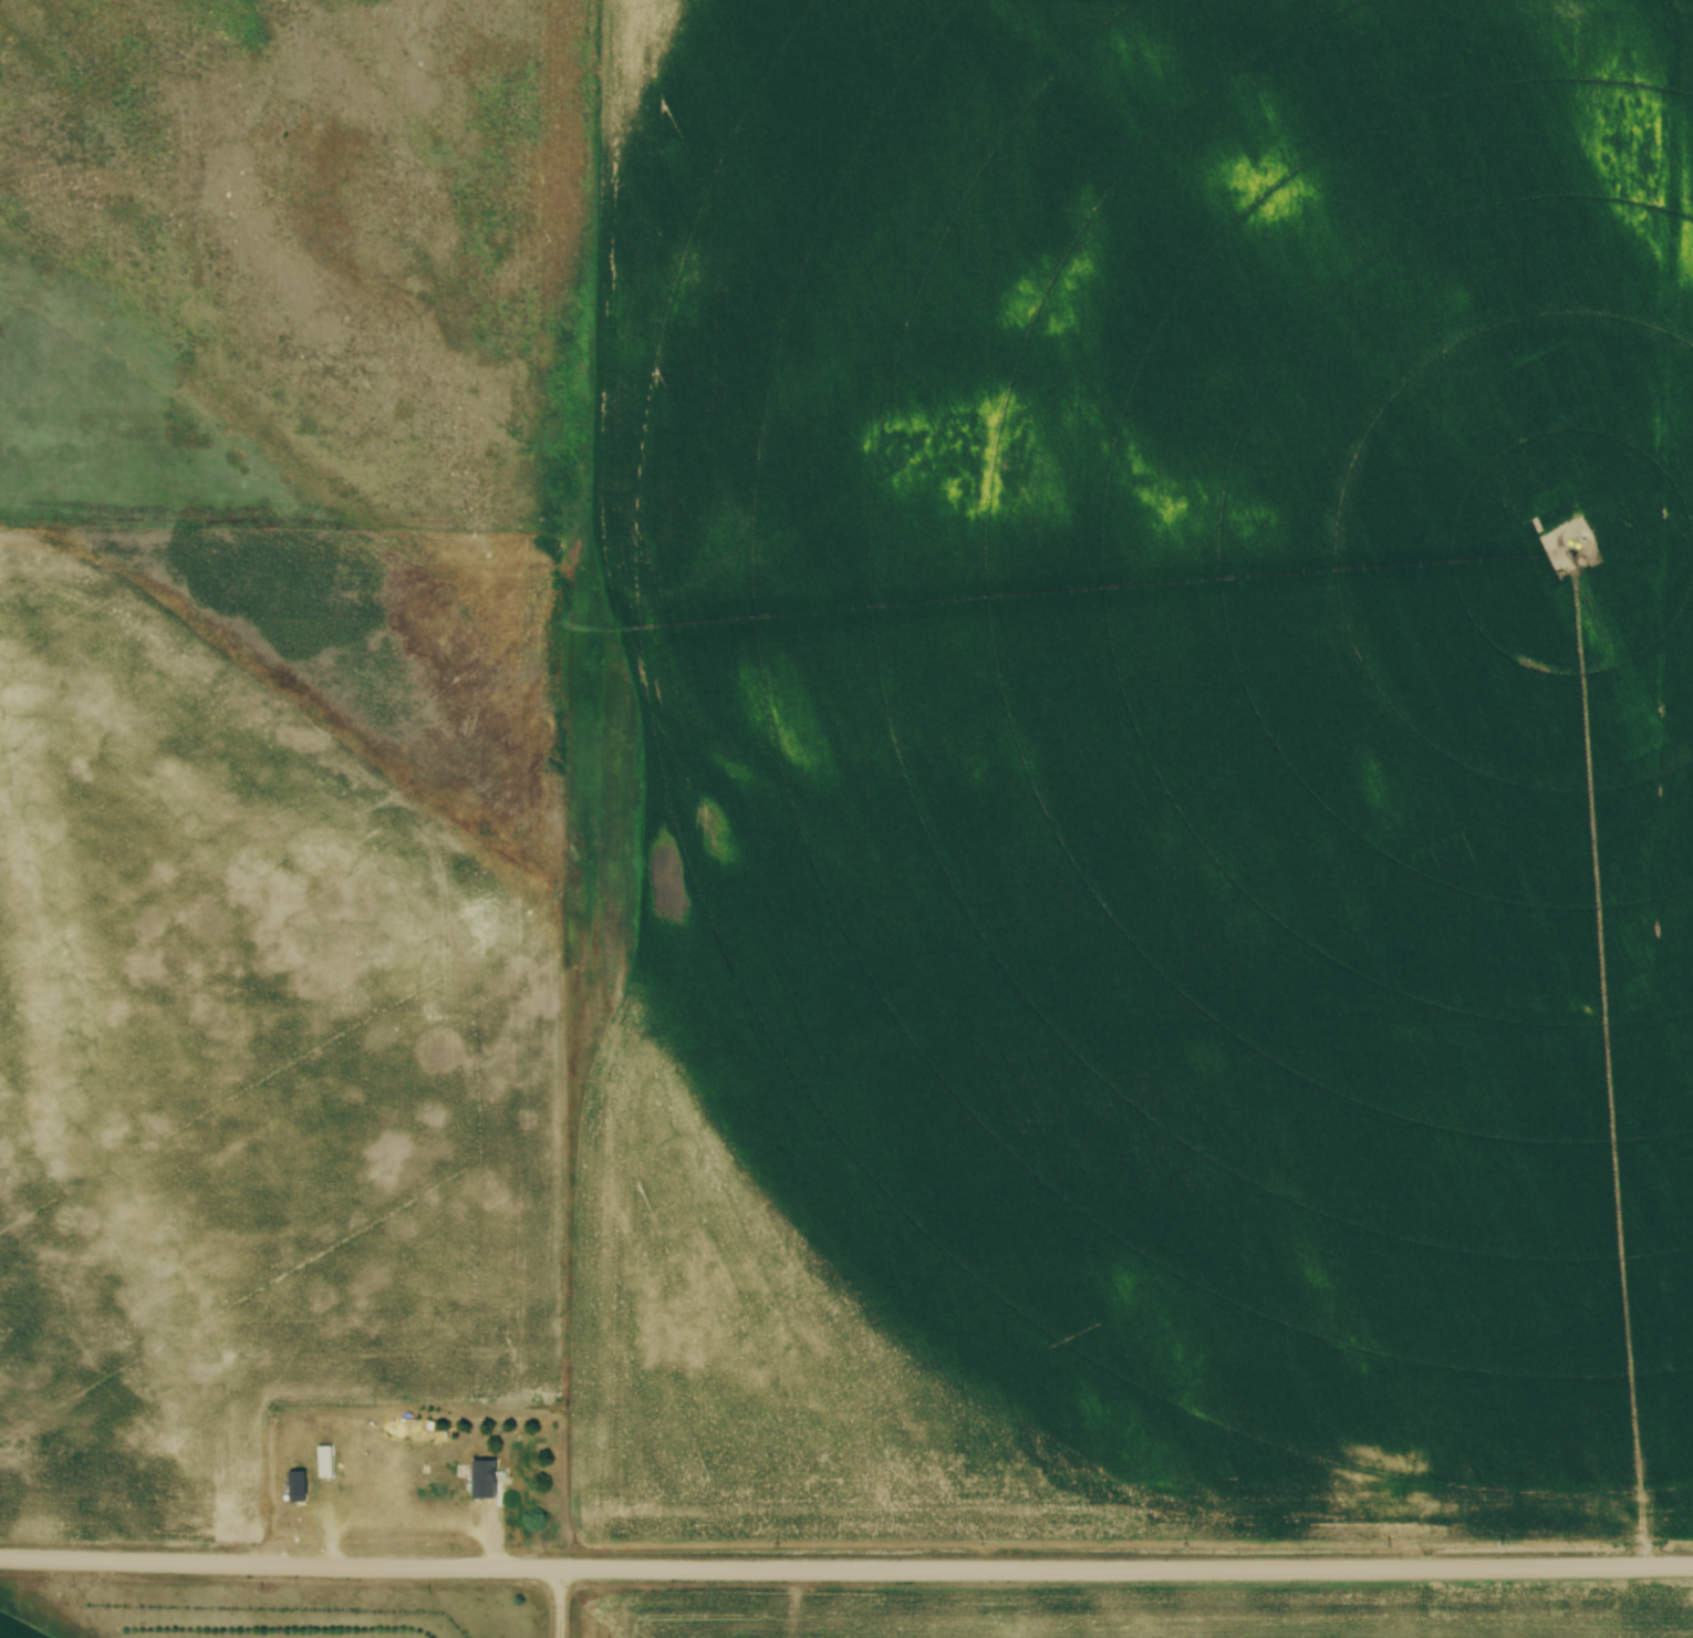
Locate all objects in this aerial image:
building: (485, 1481)
building: (298, 1487)
road: (845, 1569)
road: (558, 1604)

